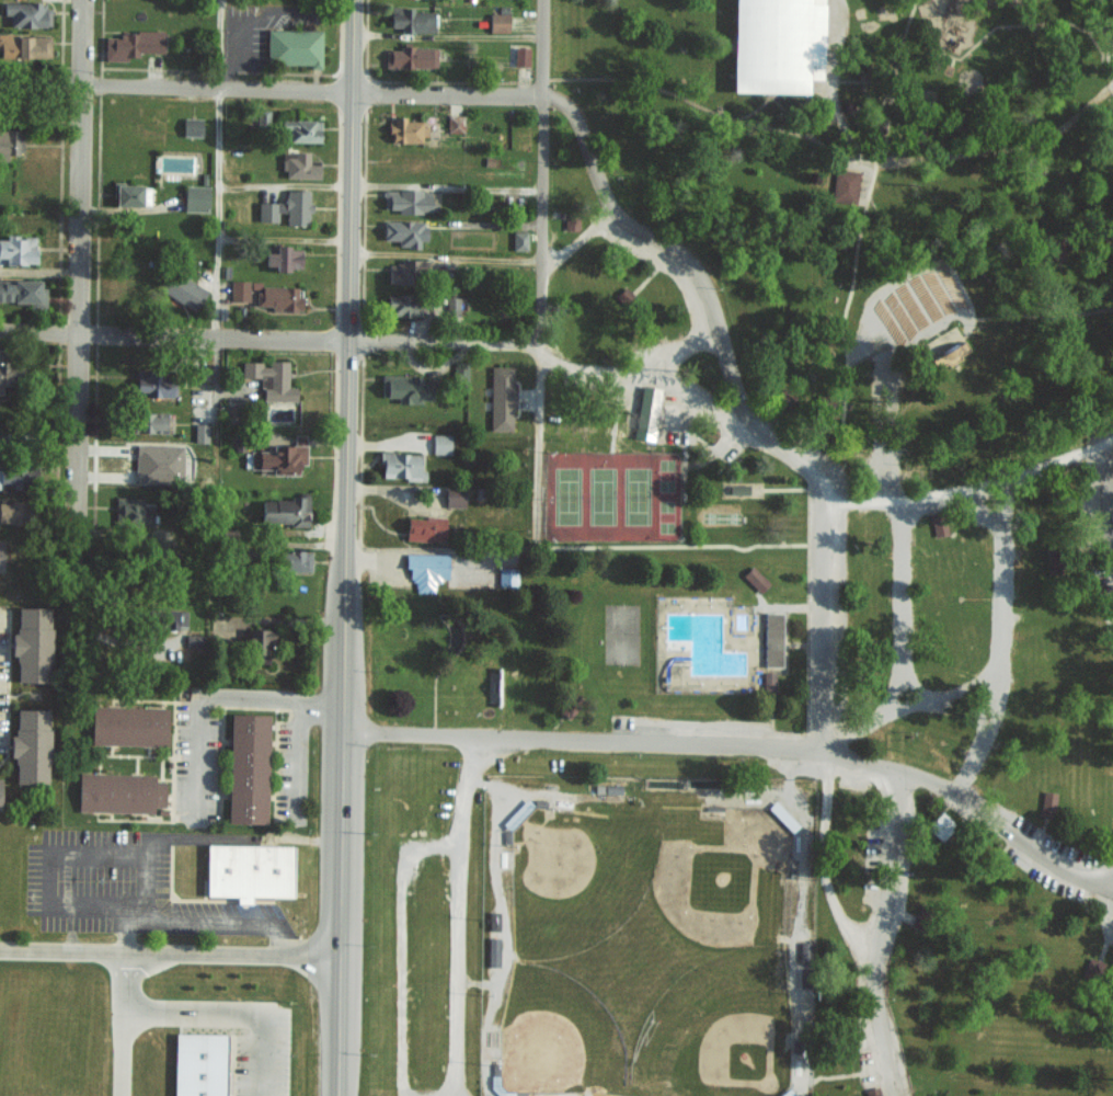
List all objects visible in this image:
building: (25, 13)
building: (412, 20)
building: (497, 22)
building: (131, 44)
building: (24, 45)
building: (292, 46)
building: (785, 46)
building: (520, 56)
building: (409, 57)
road: (41, 80)
road: (309, 91)
road: (852, 116)
building: (454, 124)
building: (191, 126)
building: (300, 129)
building: (405, 129)
building: (9, 142)
road: (872, 160)
building: (298, 165)
road: (219, 169)
building: (844, 185)
road: (378, 189)
building: (129, 195)
building: (195, 198)
building: (408, 201)
building: (286, 207)
building: (570, 220)
building: (403, 232)
building: (518, 240)
road: (538, 242)
building: (16, 250)
road: (78, 252)
building: (282, 258)
building: (404, 272)
building: (239, 289)
building: (182, 290)
building: (22, 293)
building: (276, 298)
building: (933, 300)
building: (404, 305)
building: (451, 306)
road: (38, 331)
road: (417, 341)
park: (907, 345)
road: (345, 351)
building: (949, 353)
building: (459, 370)
building: (7, 373)
building: (269, 379)
building: (154, 383)
building: (404, 388)
building: (501, 398)
road: (745, 404)
building: (829, 408)
building: (645, 412)
building: (147, 422)
building: (200, 433)
building: (440, 443)
building: (275, 459)
building: (158, 463)
building: (400, 466)
building: (12, 478)
park: (610, 493)
building: (454, 495)
road: (1109, 500)
building: (12, 511)
building: (283, 511)
building: (131, 512)
building: (938, 526)
building: (424, 528)
building: (291, 560)
building: (426, 570)
building: (507, 576)
building: (755, 579)
road: (898, 594)
building: (885, 596)
building: (170, 618)
building: (771, 639)
building: (31, 643)
building: (256, 644)
building: (768, 681)
road: (210, 698)
building: (127, 724)
road: (622, 741)
building: (28, 744)
building: (245, 767)
building: (118, 791)
building: (1047, 802)
building: (782, 815)
building: (938, 824)
road: (1014, 827)
road: (77, 850)
building: (248, 870)
road: (341, 899)
road: (457, 914)
building: (492, 920)
road: (216, 922)
road: (887, 935)
road: (170, 950)
building: (492, 950)
park: (649, 951)
road: (125, 980)
road: (230, 1013)
road: (121, 1053)
building: (197, 1064)
building: (871, 1091)
building: (785, 1093)

